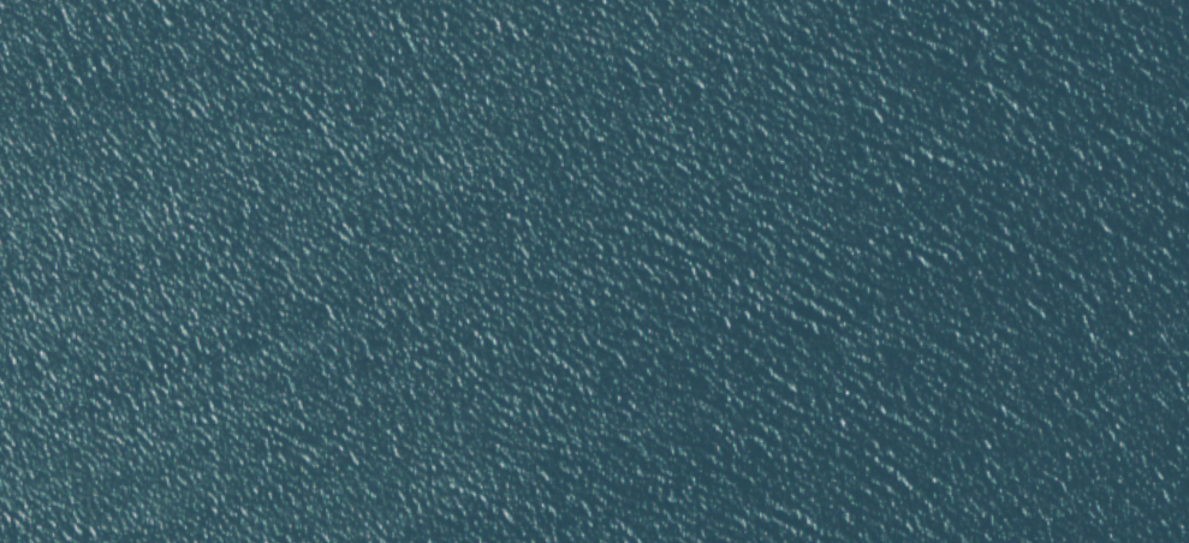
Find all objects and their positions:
river: (161, 252)

